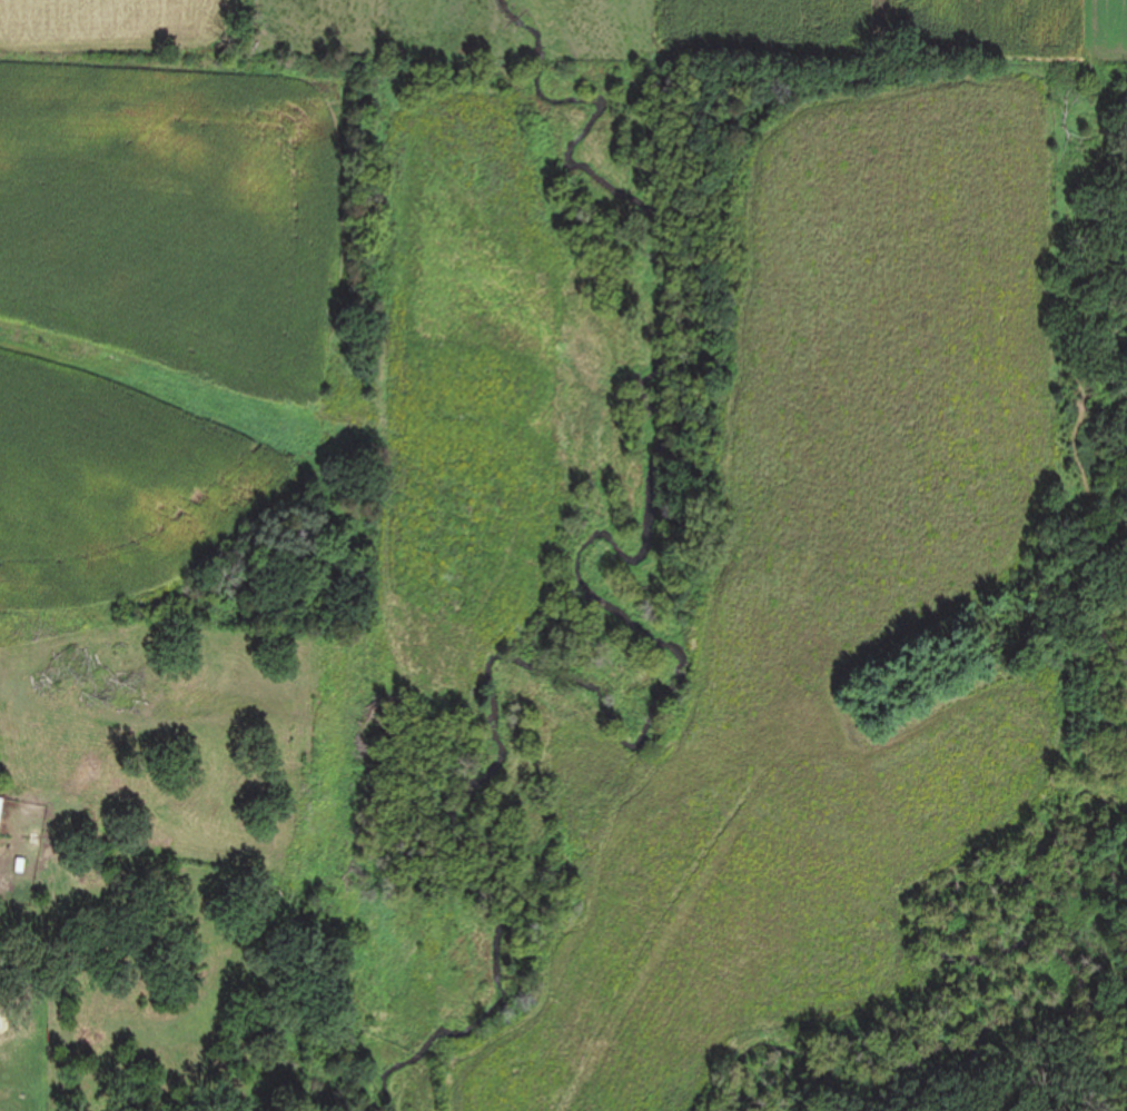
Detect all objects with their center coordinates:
building: (0, 800)

